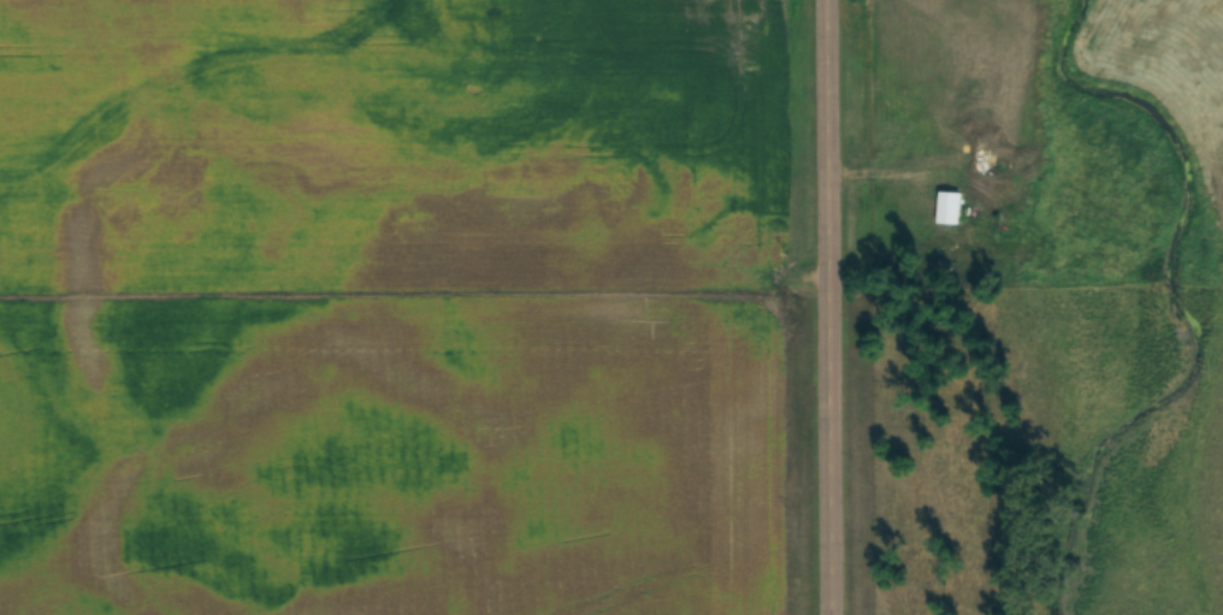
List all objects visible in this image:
building: (949, 208)
building: (949, 262)
road: (831, 307)

